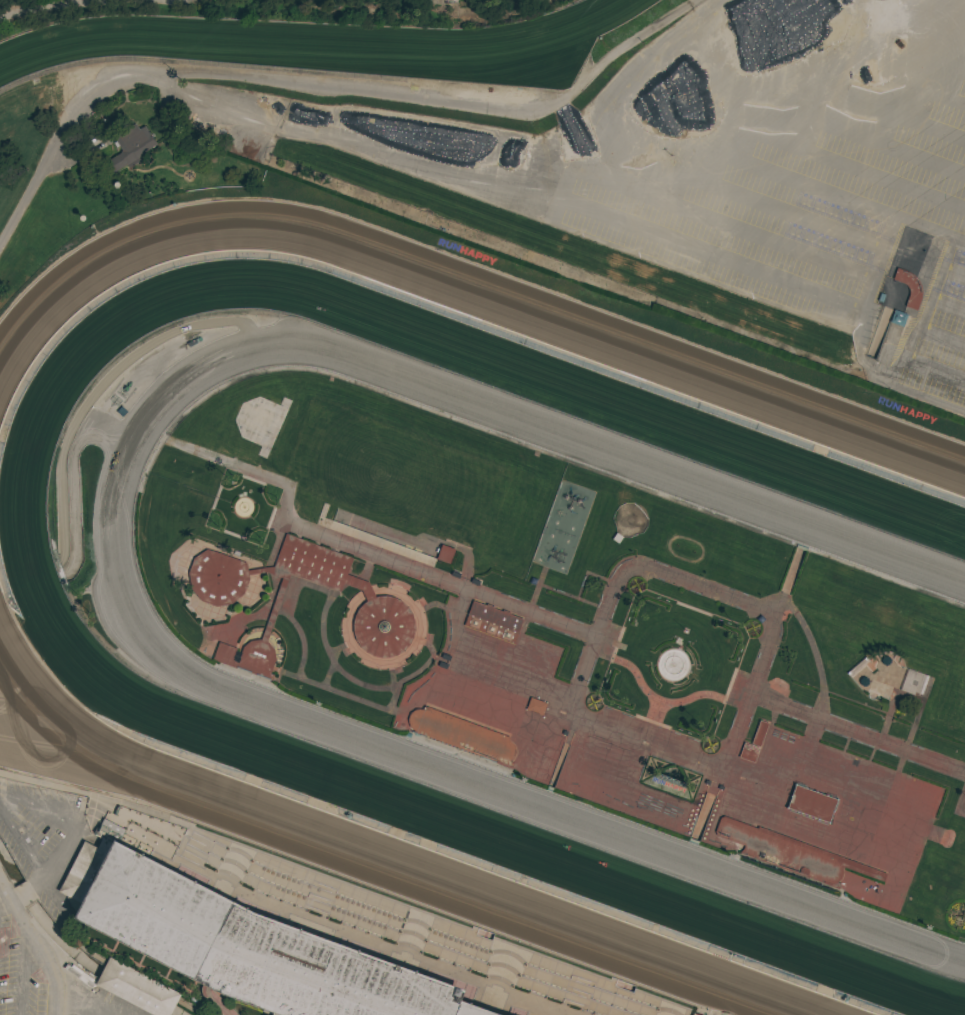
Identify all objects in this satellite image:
road: (165, 2)
road: (959, 3)
road: (48, 7)
road: (944, 29)
track: (302, 37)
road: (925, 58)
road: (909, 89)
road: (895, 115)
road: (882, 144)
building: (130, 146)
road: (857, 171)
road: (837, 196)
parking lot: (848, 205)
road: (832, 231)
road: (767, 240)
road: (745, 269)
building: (909, 287)
road: (890, 300)
road: (948, 303)
road: (888, 307)
building: (897, 318)
road: (916, 331)
road: (878, 334)
road: (941, 337)
track: (618, 343)
building: (444, 554)
road: (786, 581)
building: (382, 607)
building: (492, 621)
track: (71, 643)
road: (813, 655)
track: (174, 657)
building: (857, 667)
building: (913, 681)
building: (535, 706)
road: (573, 715)
building: (758, 733)
road: (856, 734)
building: (462, 735)
building: (748, 752)
road: (79, 777)
road: (715, 781)
building: (811, 803)
road: (960, 803)
road: (701, 819)
track: (353, 846)
building: (789, 853)
building: (297, 940)
road: (35, 944)
road: (23, 970)
road: (72, 1007)
road: (81, 1013)

